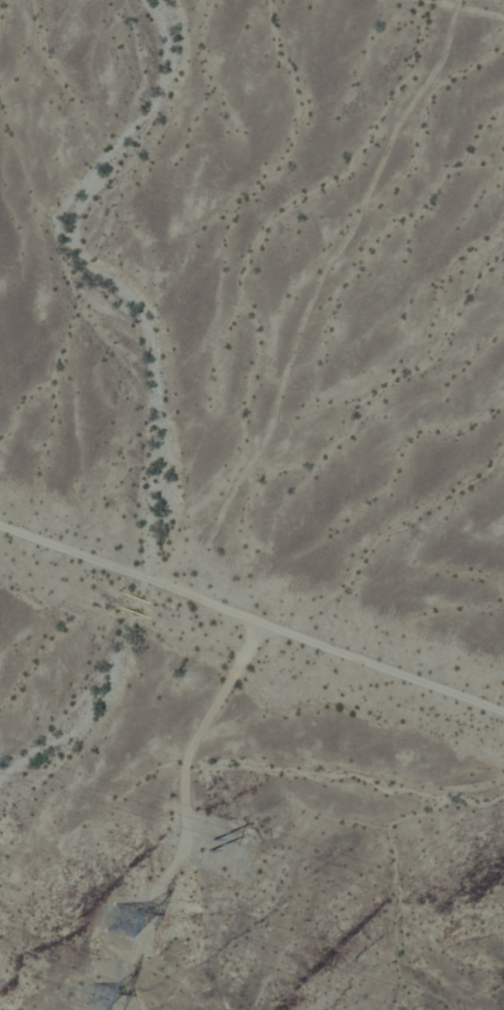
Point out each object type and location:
road: (252, 616)
power tower: (201, 846)
power tower: (114, 924)
power tower: (82, 988)

